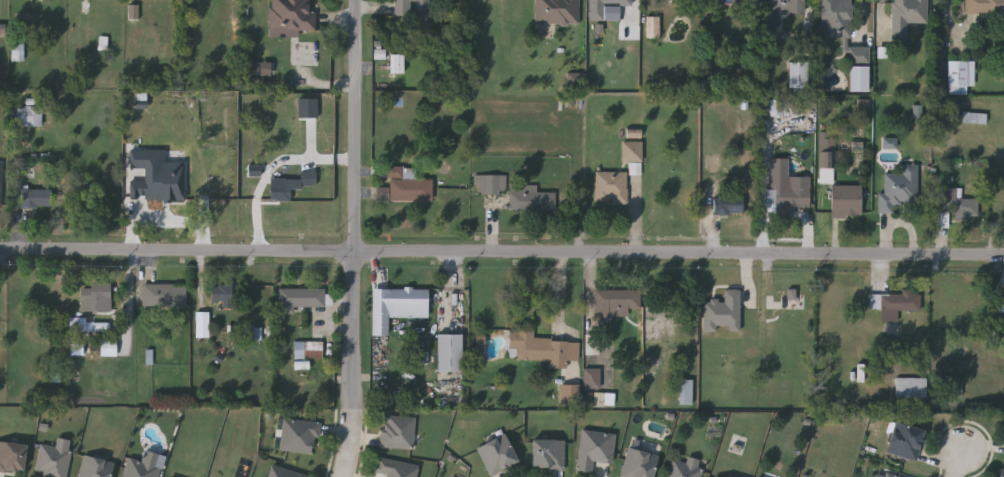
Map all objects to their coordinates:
building: (729, 1)
building: (784, 4)
building: (411, 7)
building: (984, 8)
building: (607, 9)
building: (135, 12)
building: (557, 12)
building: (907, 16)
building: (291, 17)
building: (835, 19)
building: (652, 26)
building: (3, 29)
building: (17, 50)
building: (381, 54)
building: (859, 55)
building: (398, 64)
building: (260, 69)
building: (960, 76)
building: (800, 77)
building: (860, 79)
building: (577, 80)
building: (785, 107)
building: (309, 108)
building: (28, 115)
building: (975, 118)
road: (358, 128)
building: (890, 143)
building: (632, 150)
building: (828, 158)
building: (714, 163)
building: (255, 170)
building: (158, 177)
building: (1, 181)
building: (290, 184)
building: (487, 184)
building: (407, 186)
building: (611, 186)
building: (898, 189)
building: (383, 193)
building: (36, 197)
building: (531, 198)
building: (846, 198)
building: (785, 199)
building: (957, 202)
building: (728, 204)
road: (501, 256)
building: (222, 293)
building: (164, 294)
building: (96, 296)
building: (303, 298)
building: (782, 301)
building: (616, 302)
building: (894, 304)
building: (1001, 304)
building: (396, 305)
building: (724, 312)
building: (203, 325)
building: (88, 326)
building: (256, 333)
building: (482, 342)
building: (592, 344)
building: (110, 348)
building: (543, 348)
building: (78, 350)
building: (309, 350)
building: (449, 352)
building: (303, 365)
road: (355, 367)
building: (56, 374)
building: (592, 376)
building: (911, 386)
building: (955, 389)
building: (687, 392)
building: (571, 394)
building: (398, 432)
building: (299, 437)
building: (906, 441)
building: (596, 450)
building: (549, 454)
building: (499, 455)
building: (12, 457)
building: (53, 462)
road: (962, 462)
building: (640, 464)
building: (95, 467)
building: (396, 468)
building: (687, 468)
building: (140, 469)
building: (286, 473)
building: (1002, 473)
building: (891, 475)
building: (717, 476)

